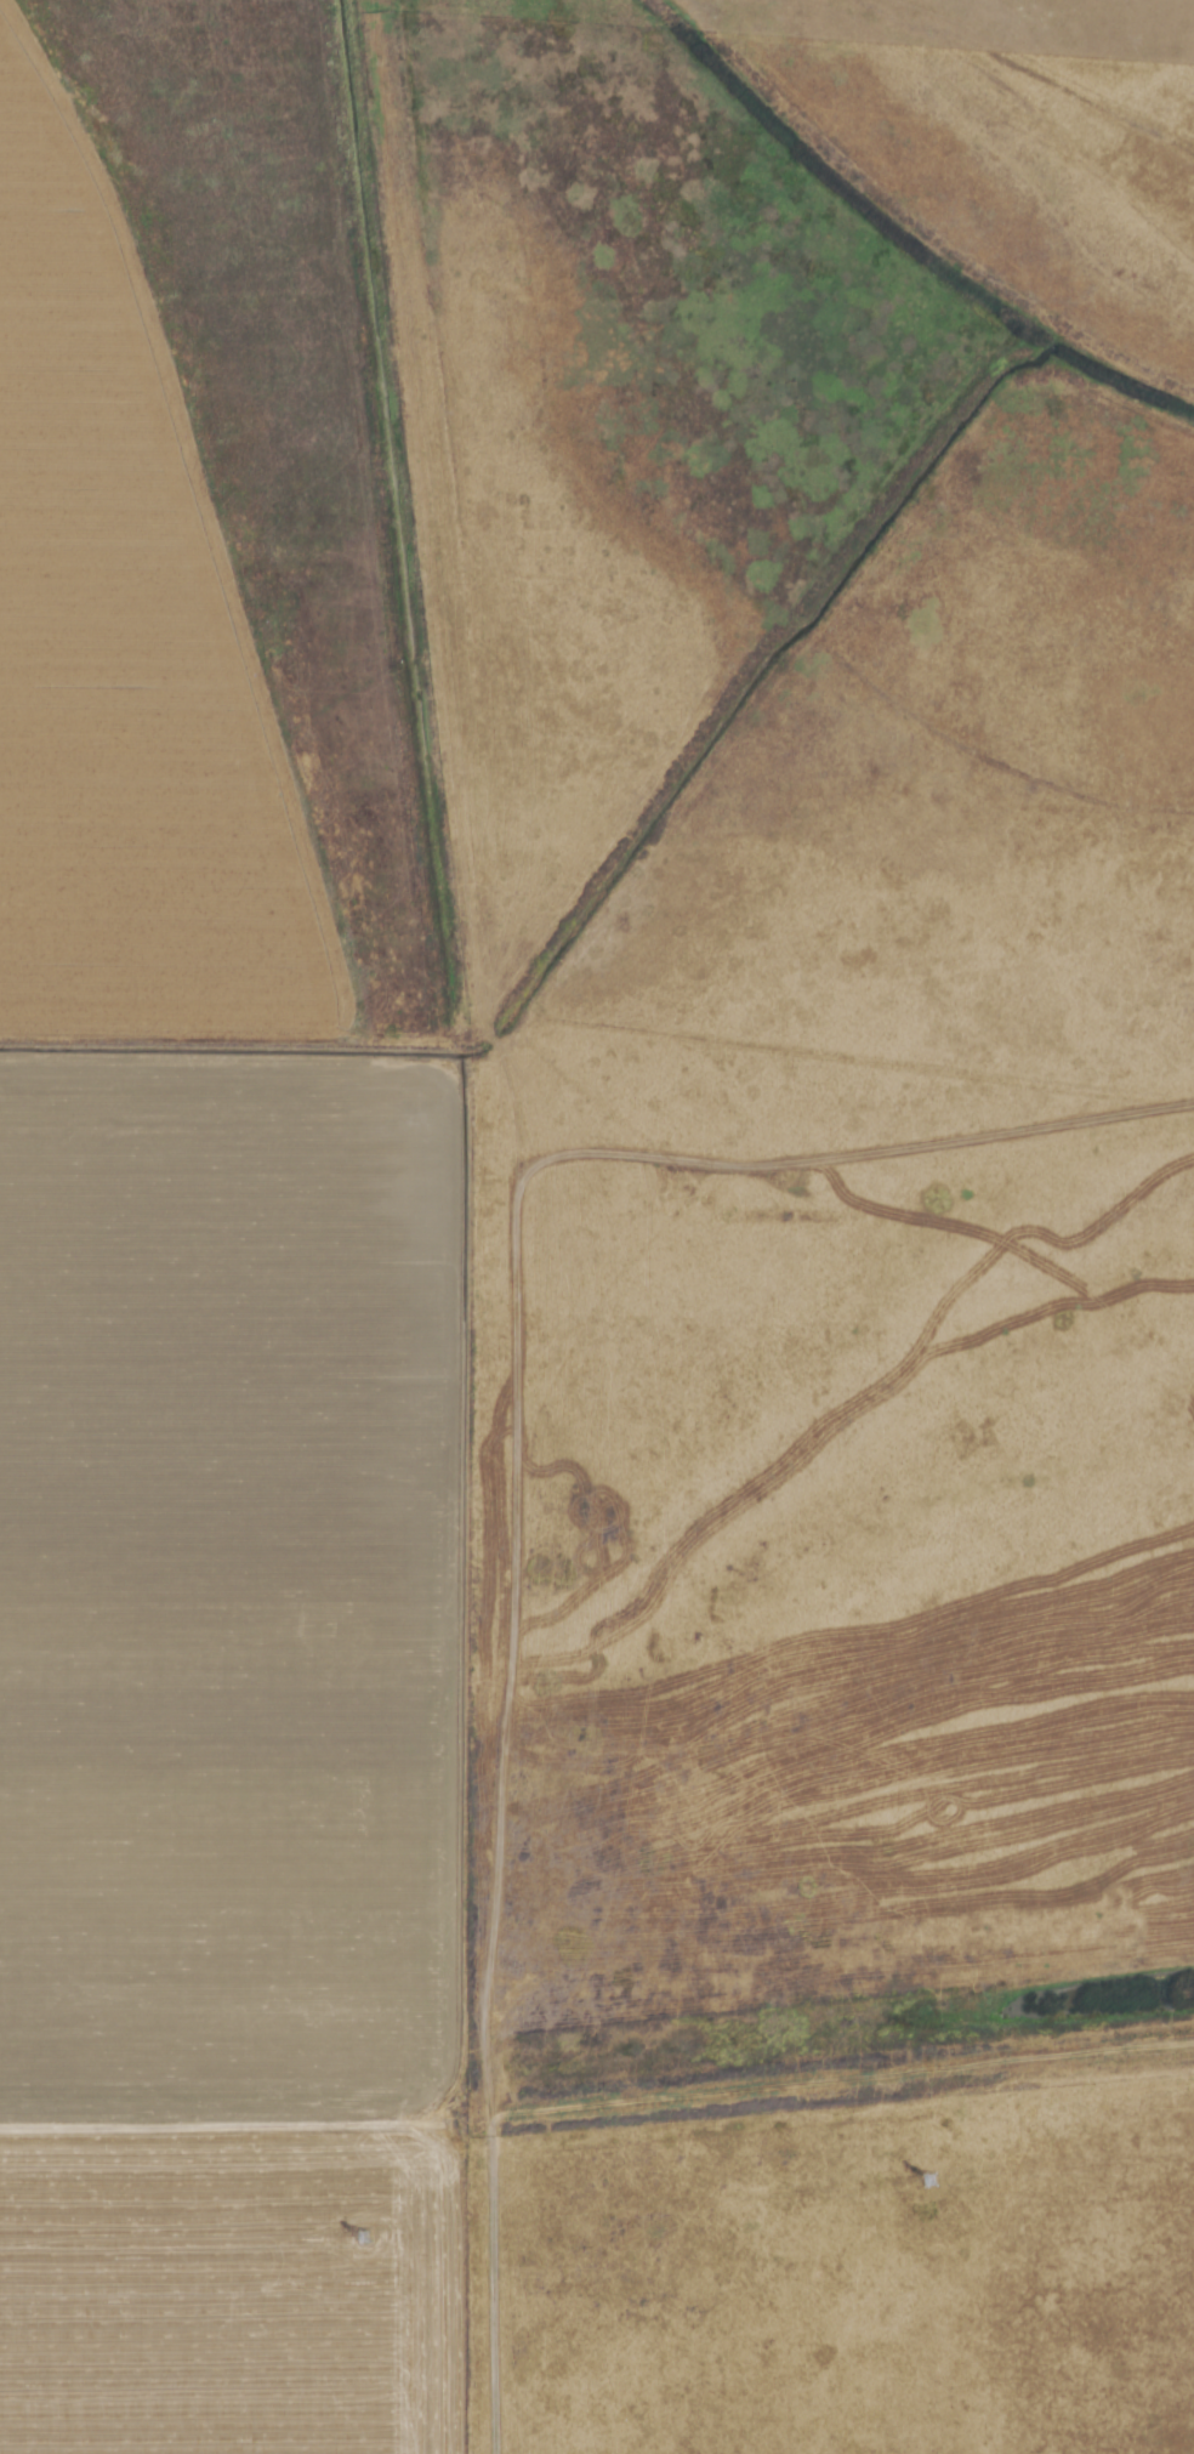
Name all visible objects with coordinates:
power tower: (951, 2179)
power tower: (365, 2239)

